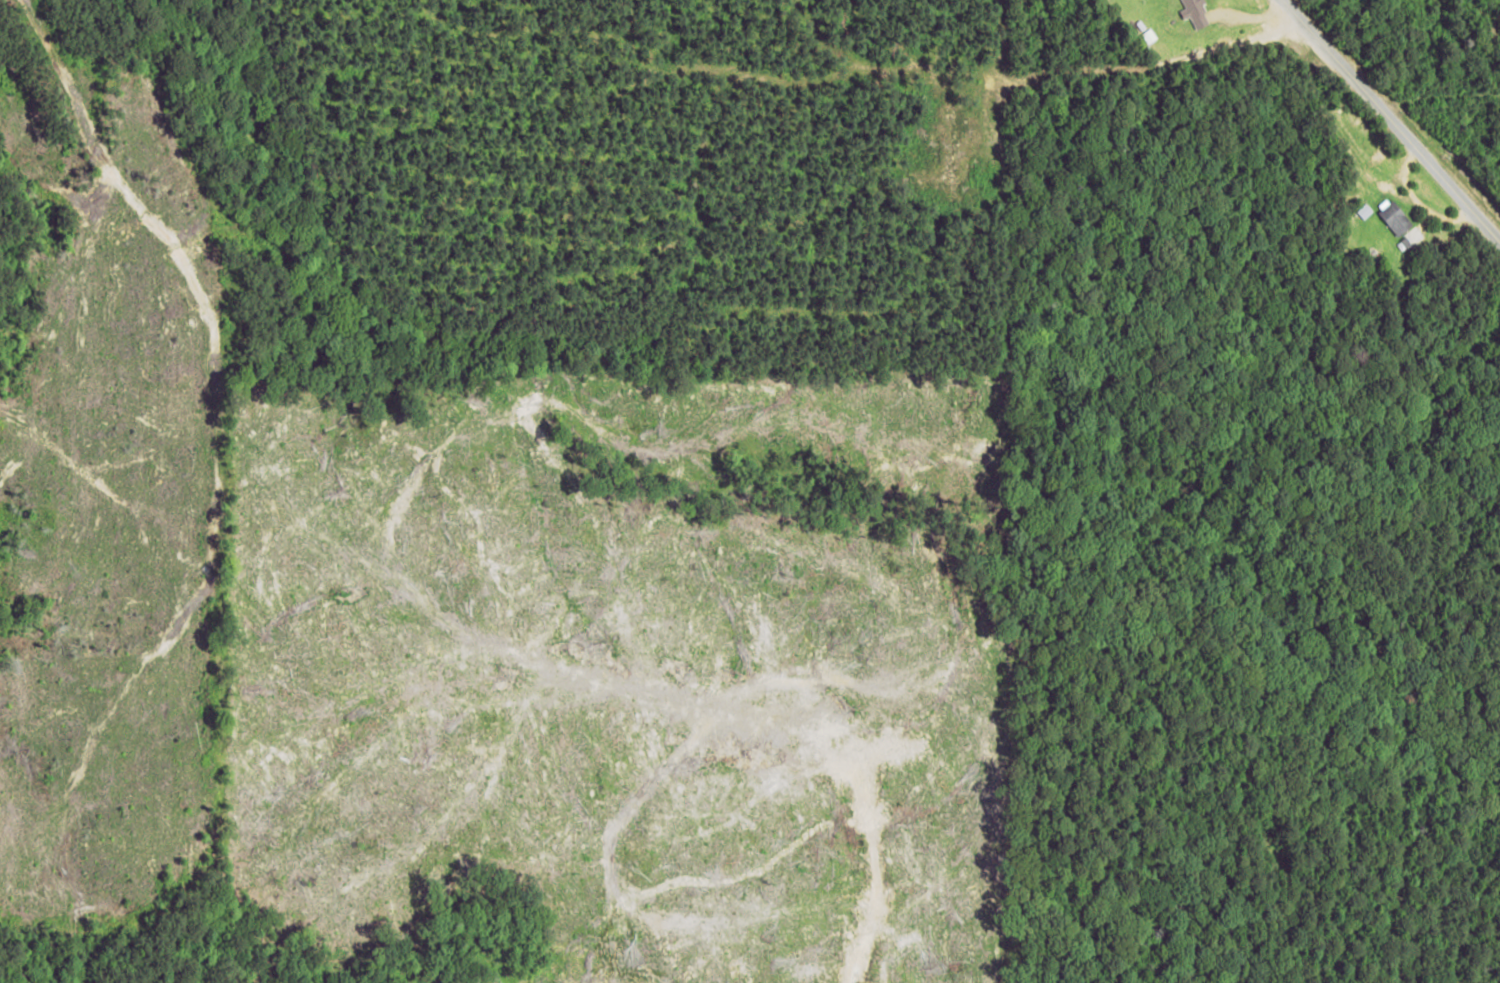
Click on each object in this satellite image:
building: (1194, 13)
road: (1373, 119)
building: (1394, 217)

